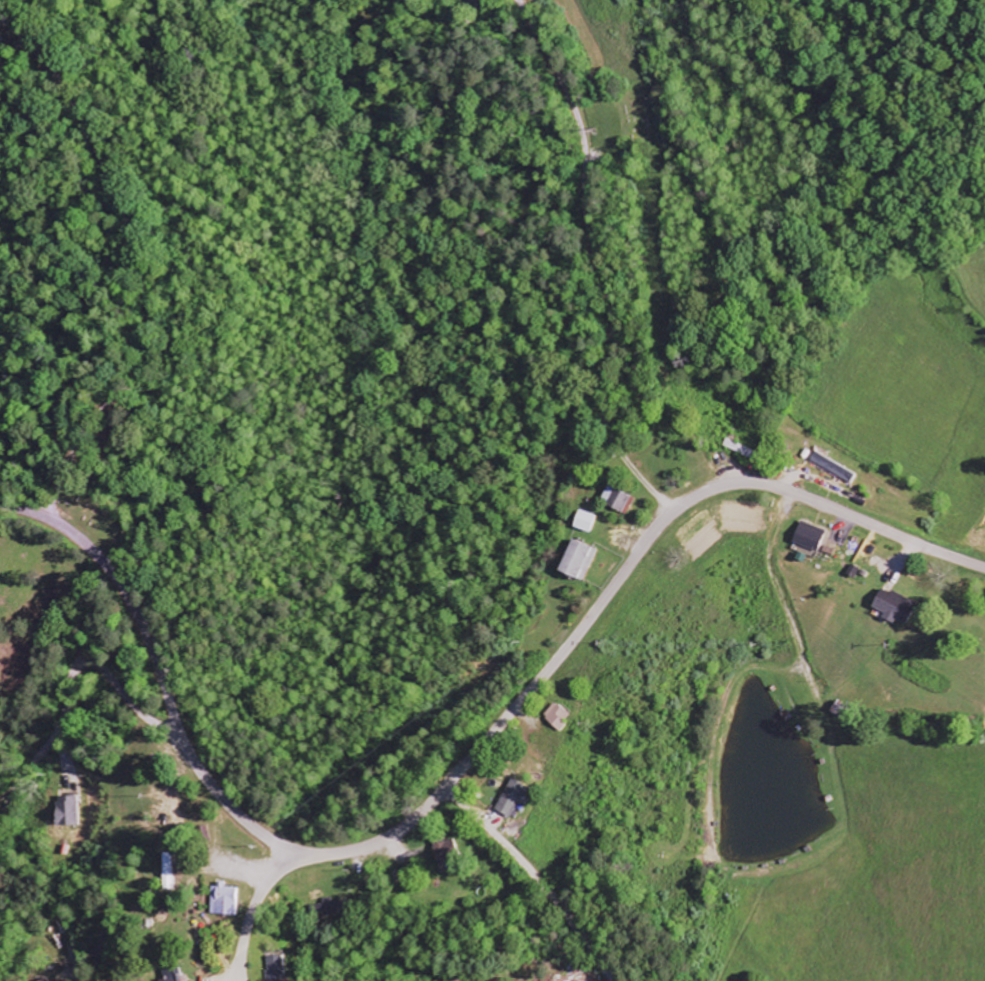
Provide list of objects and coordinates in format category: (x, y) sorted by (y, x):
road: (597, 261)
building: (834, 468)
building: (619, 500)
building: (586, 521)
building: (811, 537)
building: (578, 560)
building: (855, 571)
building: (895, 606)
road: (70, 678)
building: (558, 717)
road: (459, 772)
building: (511, 799)
building: (64, 812)
building: (444, 850)
road: (539, 877)
building: (224, 900)
road: (254, 909)
building: (276, 968)
road: (236, 973)
building: (171, 975)

